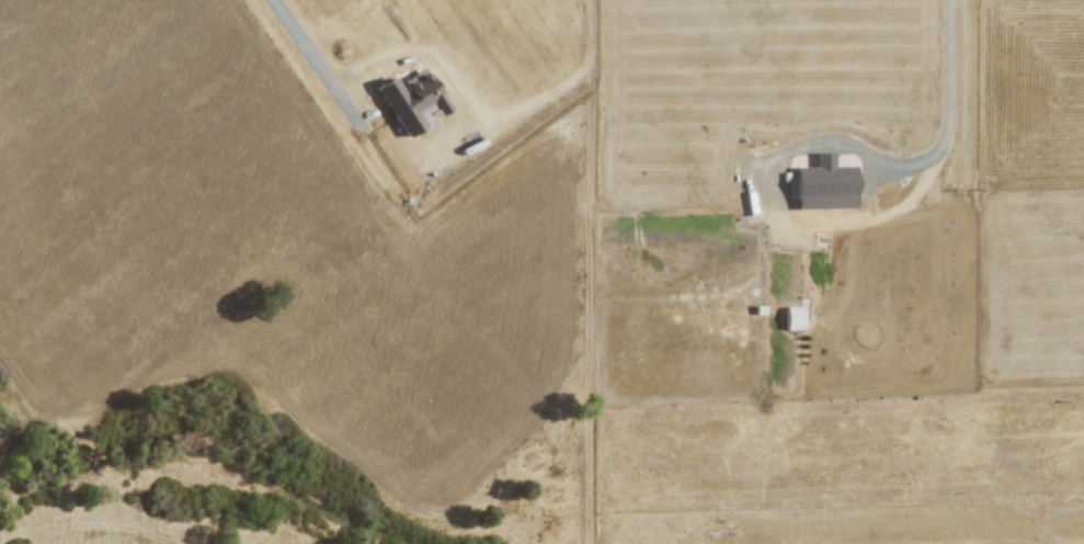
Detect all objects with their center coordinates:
road: (947, 106)
building: (824, 184)
building: (791, 317)

